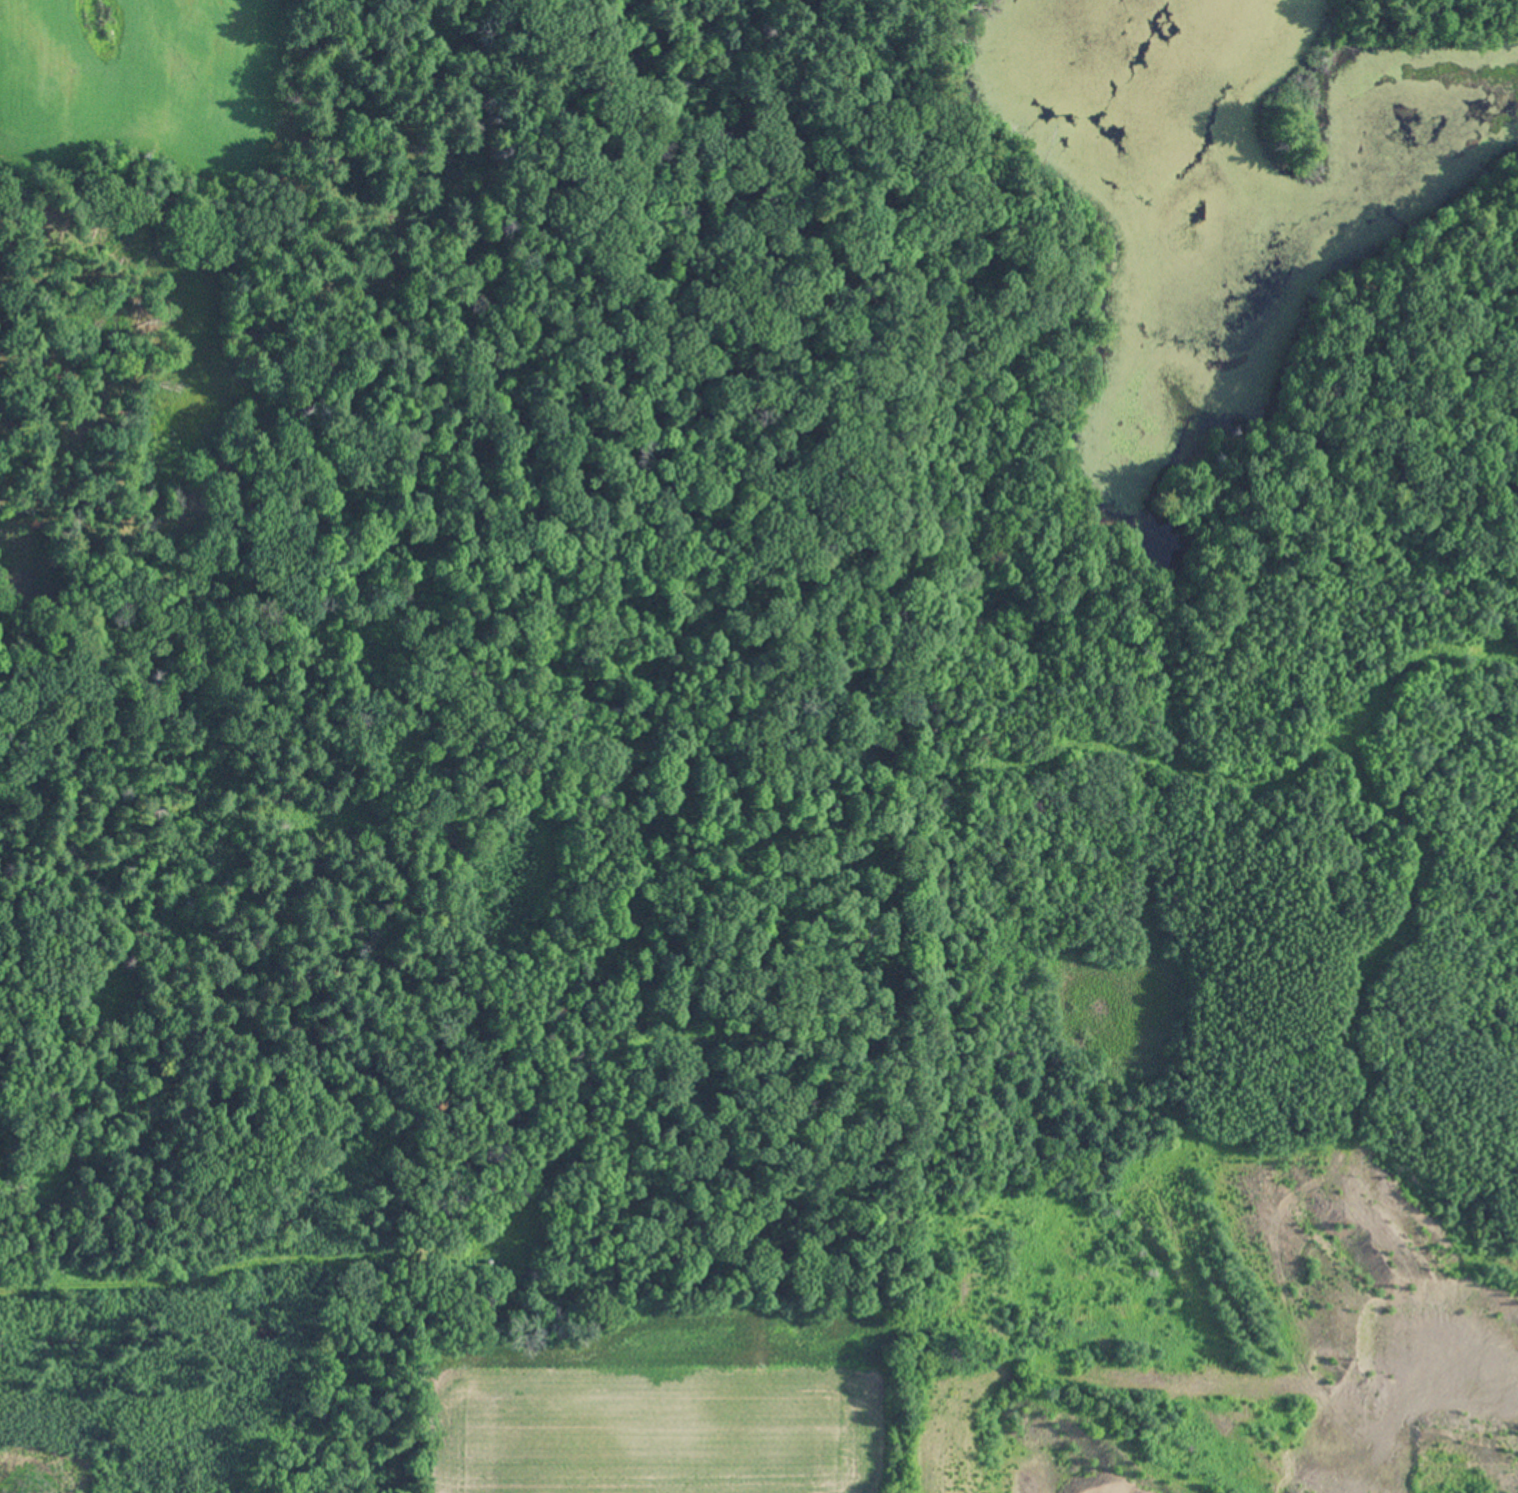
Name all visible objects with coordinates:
quarry: (1185, 858)
quarry: (459, 1014)

